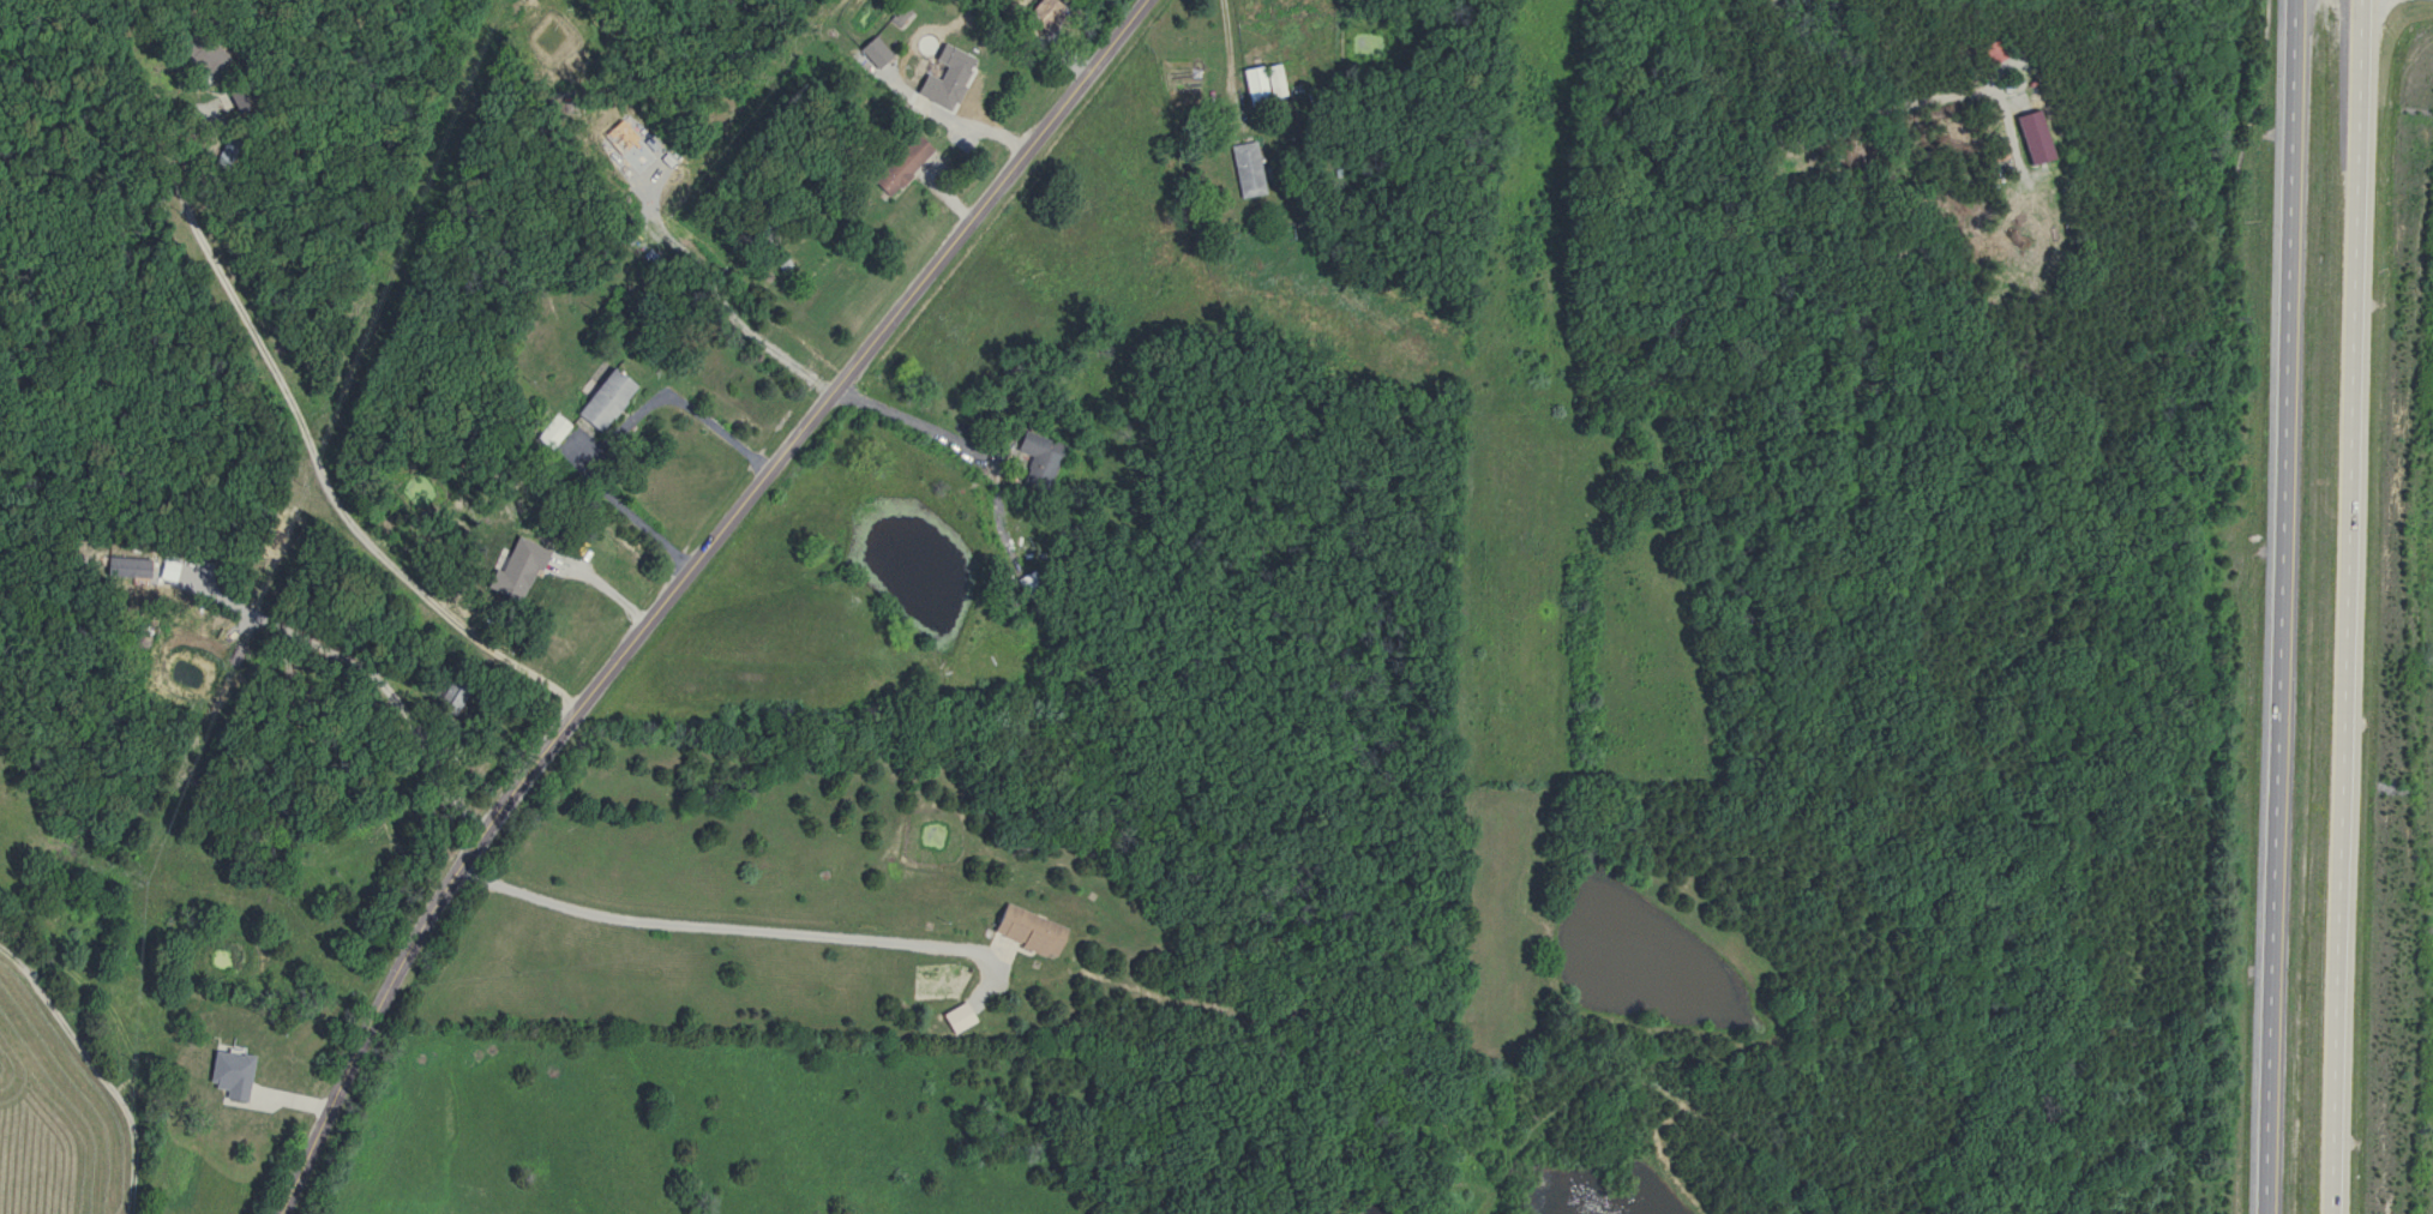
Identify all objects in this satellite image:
building: (1043, 14)
road: (1225, 52)
building: (942, 79)
building: (1260, 84)
building: (899, 166)
building: (1245, 170)
road: (282, 393)
building: (602, 402)
road: (911, 419)
building: (1034, 459)
road: (675, 583)
road: (2283, 607)
road: (2351, 607)
road: (352, 663)
road: (710, 925)
building: (1025, 930)
road: (95, 1069)

